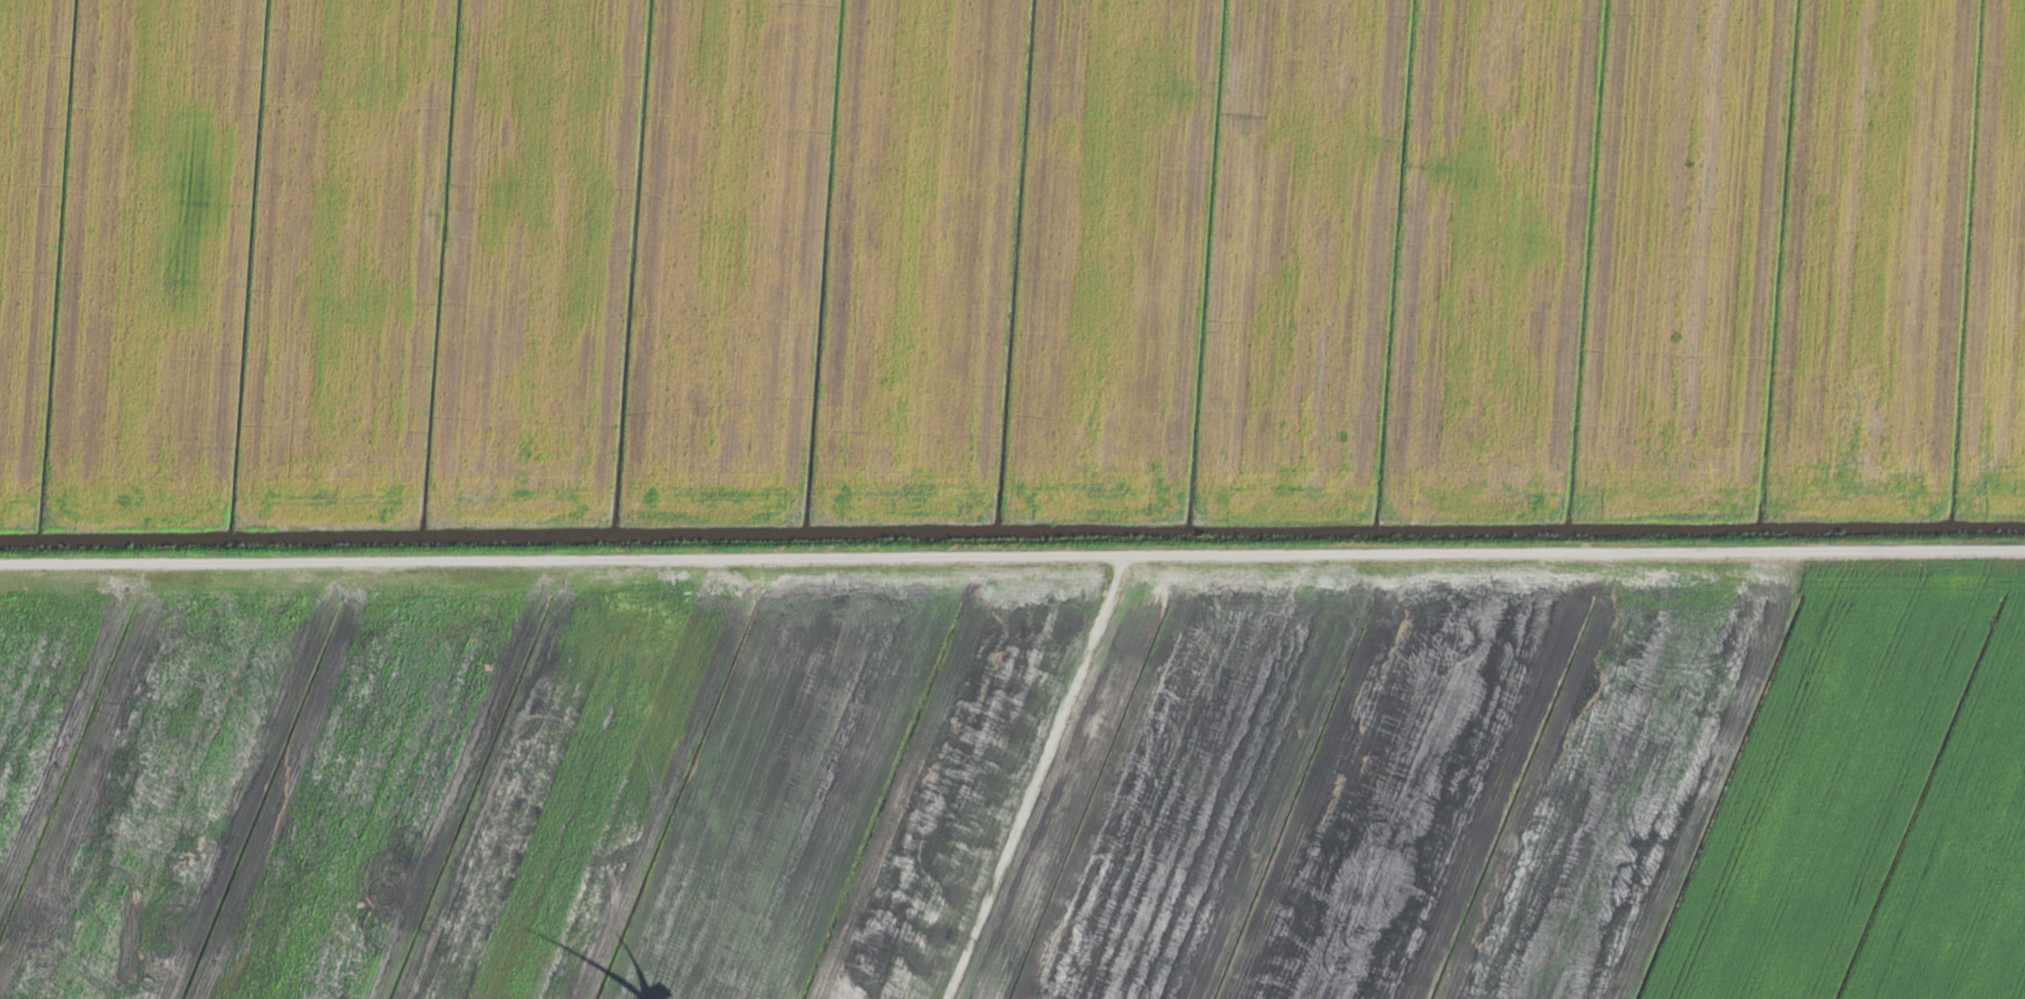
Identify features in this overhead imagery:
road: (1012, 567)

